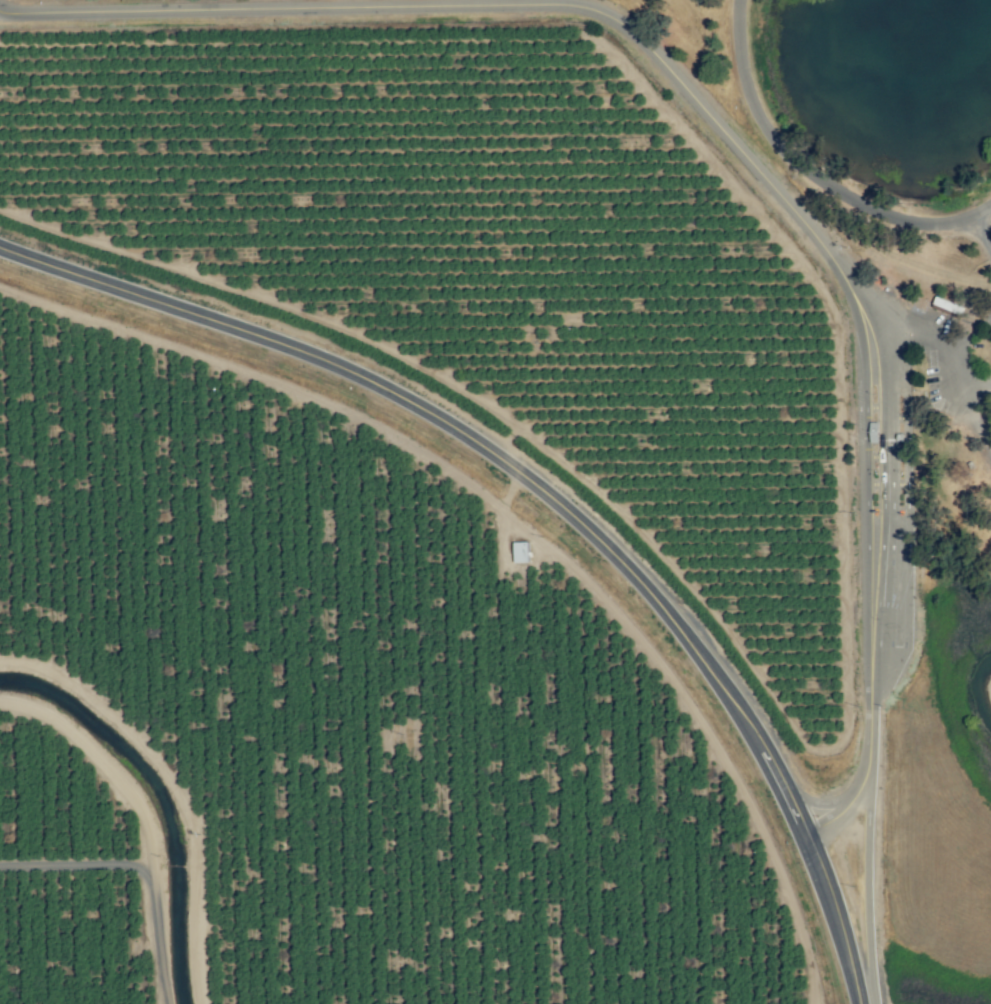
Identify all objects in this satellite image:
road: (725, 133)
road: (809, 174)
road: (983, 228)
road: (958, 340)
road: (946, 372)
road: (975, 389)
road: (551, 496)
crop: (386, 518)
building: (518, 544)
road: (862, 858)

